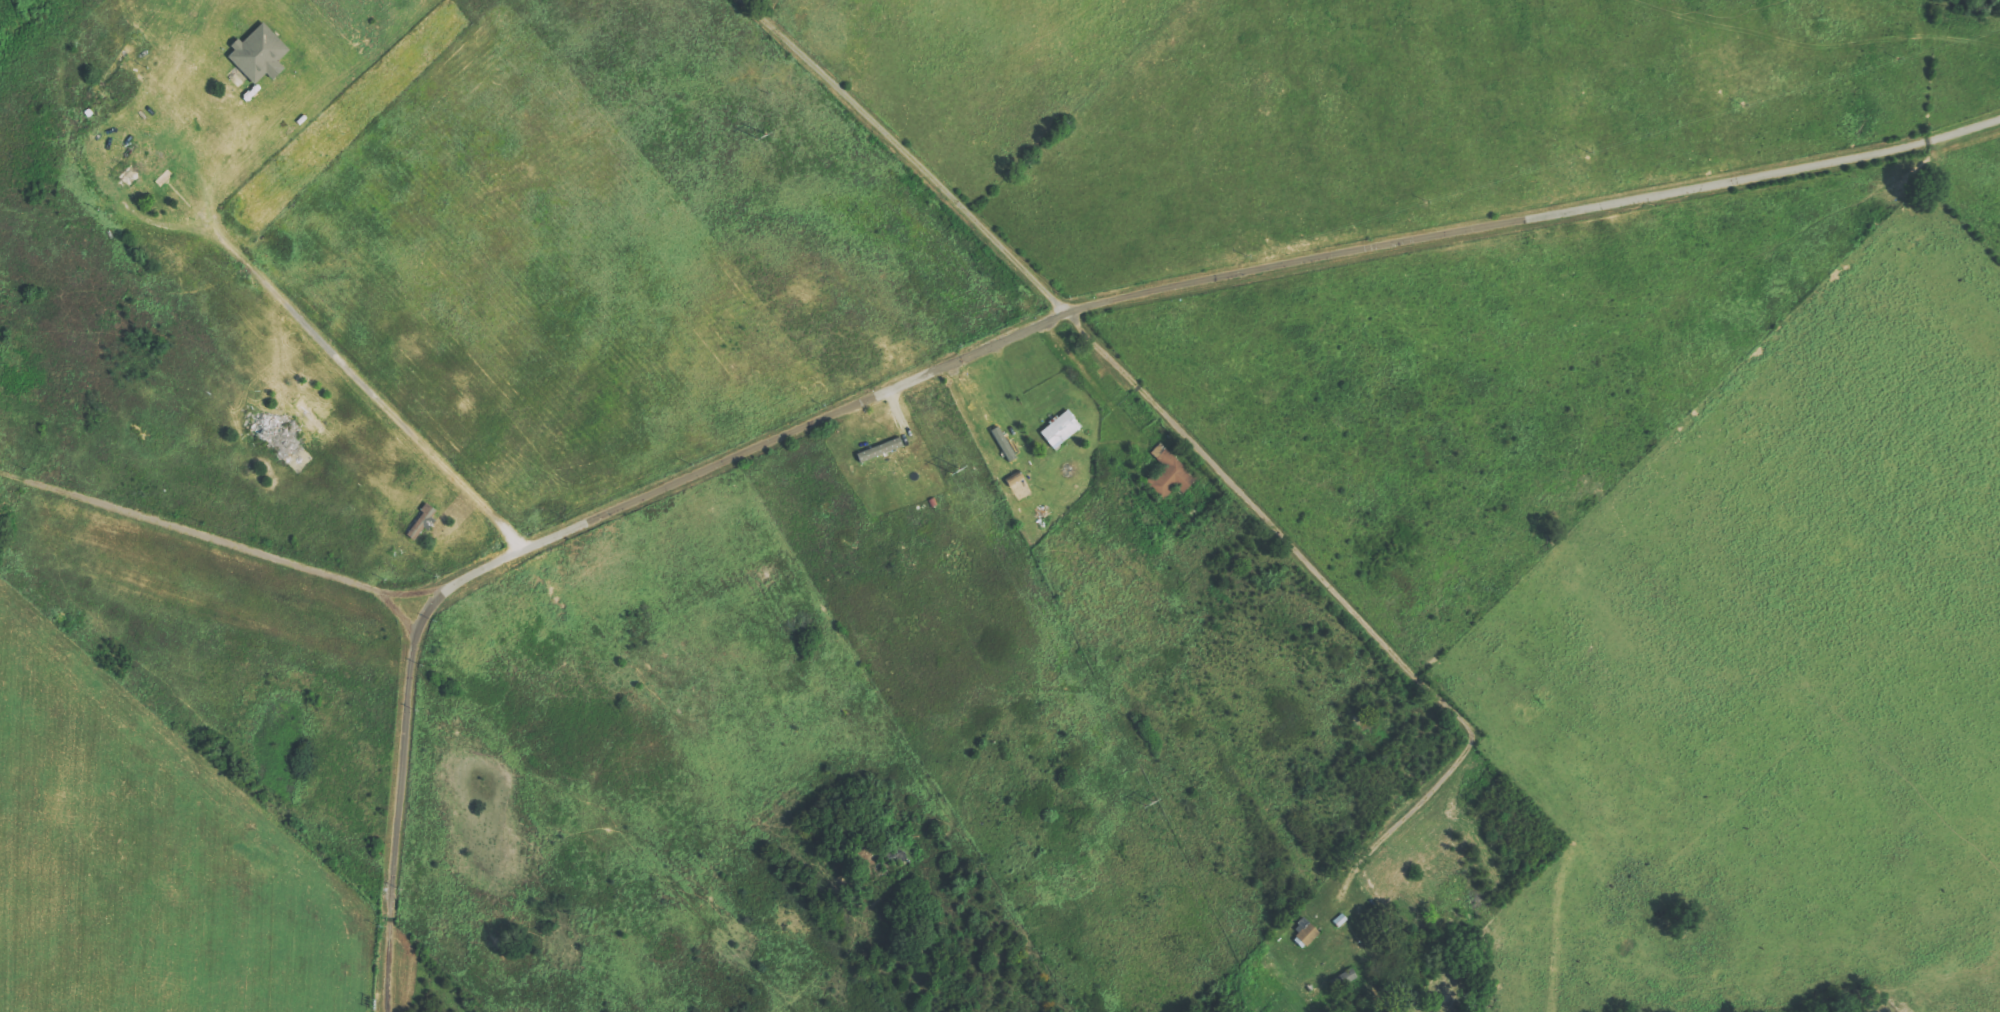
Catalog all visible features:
building: (261, 55)
road: (1984, 60)
road: (906, 153)
road: (1961, 237)
road: (994, 345)
building: (1062, 430)
building: (1171, 474)
road: (237, 548)
road: (1341, 598)
building: (1307, 933)

